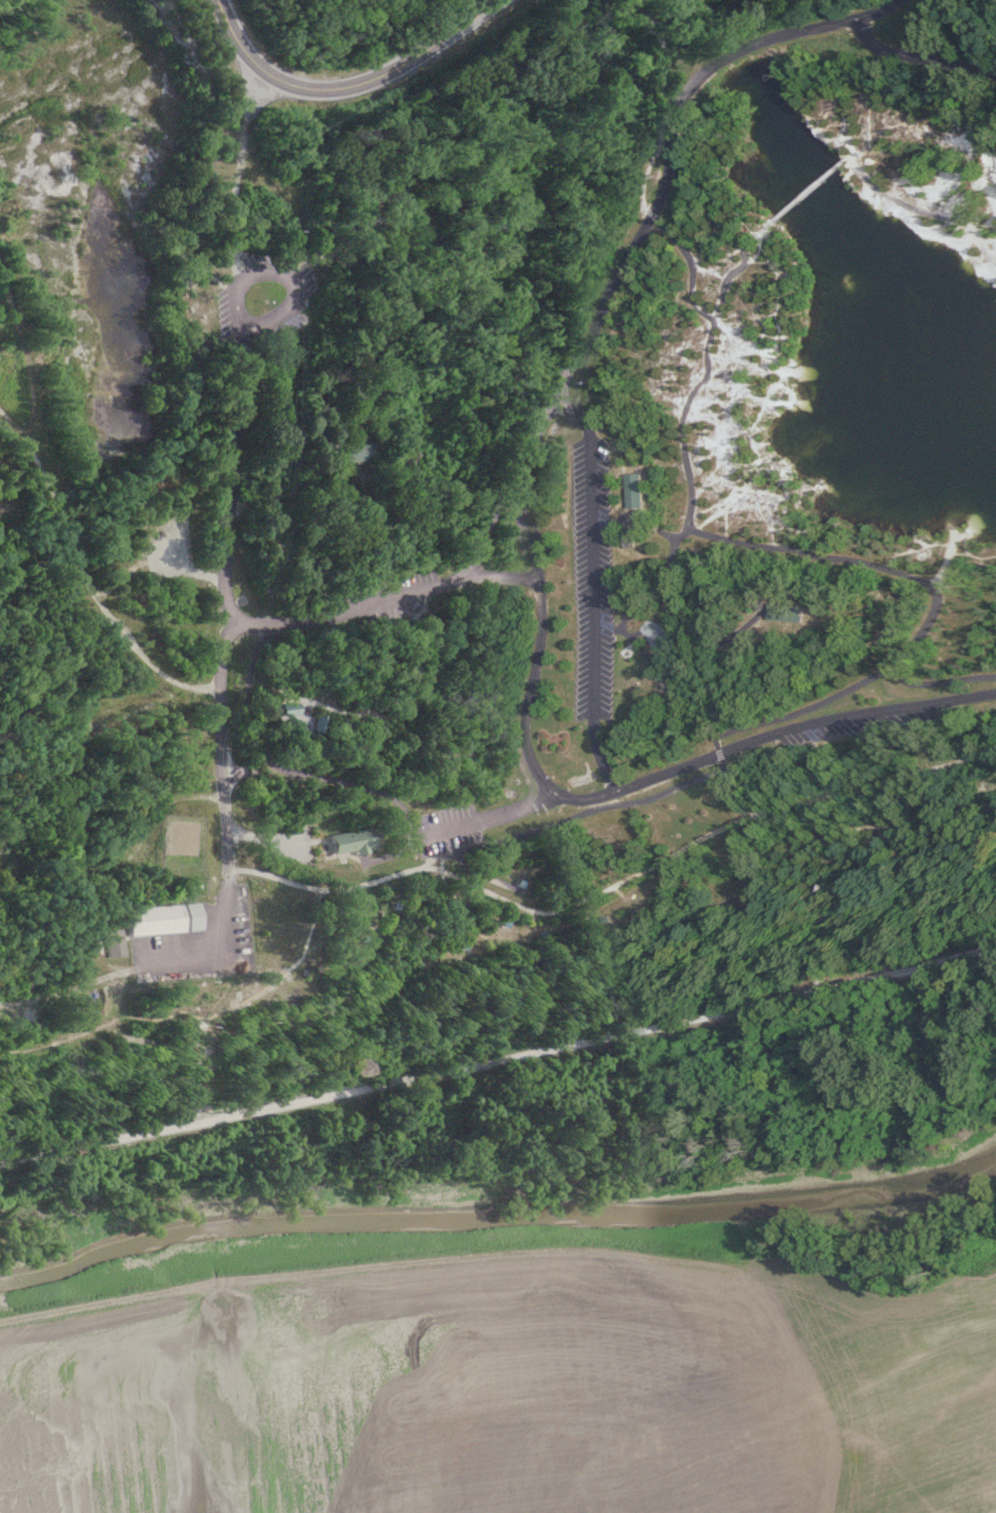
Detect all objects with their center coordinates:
road: (663, 61)
road: (916, 62)
road: (351, 84)
road: (796, 194)
road: (920, 211)
road: (729, 271)
parking lot: (262, 298)
road: (29, 348)
road: (17, 421)
building: (366, 453)
road: (236, 461)
building: (631, 490)
road: (639, 519)
road: (494, 522)
road: (686, 523)
park: (483, 533)
road: (530, 543)
road: (501, 577)
parking lot: (587, 581)
road: (653, 588)
road: (589, 590)
road: (95, 592)
building: (786, 612)
parking lot: (384, 618)
road: (676, 670)
road: (880, 675)
road: (941, 678)
building: (361, 699)
road: (145, 706)
building: (289, 709)
building: (320, 723)
parking lot: (842, 723)
road: (285, 769)
road: (491, 819)
road: (571, 819)
road: (226, 824)
parking lot: (452, 830)
building: (356, 841)
road: (127, 859)
road: (697, 904)
building: (156, 921)
parking lot: (195, 955)
road: (71, 989)
road: (246, 1001)
road: (690, 1018)
road: (191, 1123)

